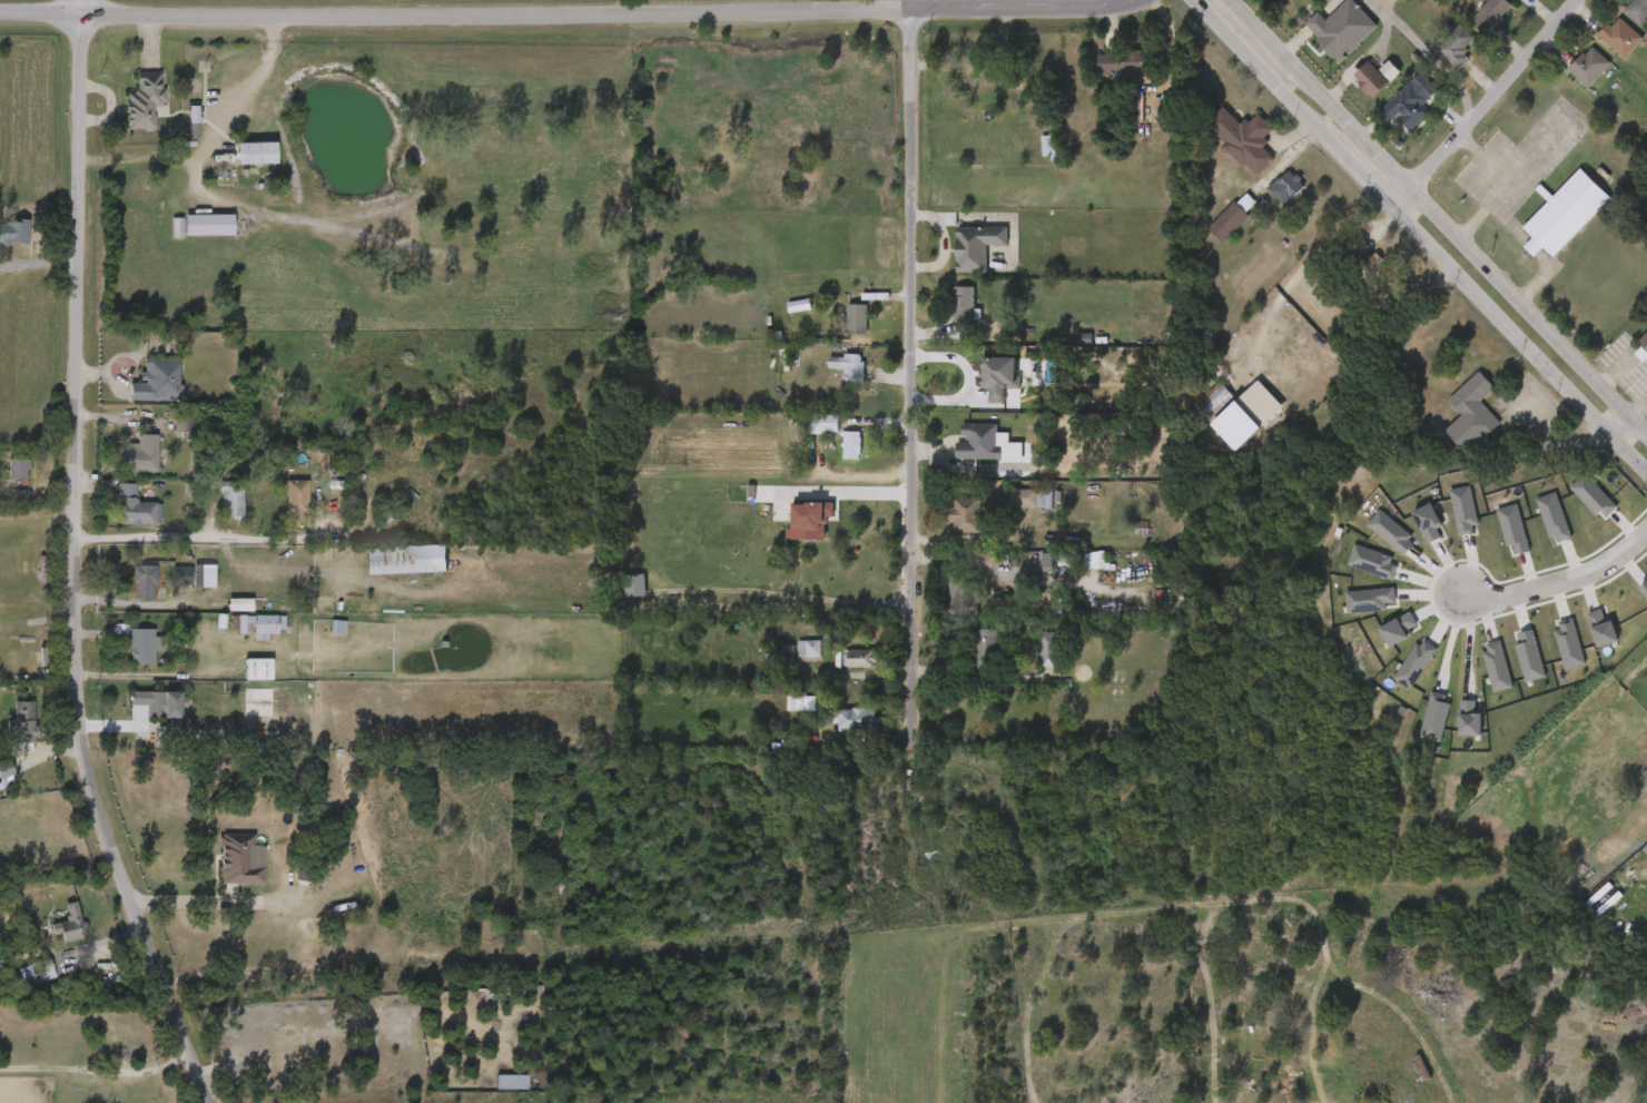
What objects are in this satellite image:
building: (1517, 0)
road: (76, 6)
road: (1023, 9)
building: (1638, 10)
road: (38, 11)
building: (1491, 14)
road: (489, 16)
building: (1471, 24)
building: (1343, 28)
building: (1621, 37)
building: (1322, 39)
building: (1458, 47)
building: (1600, 48)
road: (1430, 53)
building: (1437, 57)
building: (1124, 62)
building: (1590, 66)
building: (1103, 72)
building: (1569, 77)
building: (1372, 79)
building: (1351, 90)
building: (148, 100)
building: (1413, 101)
road: (1479, 106)
building: (126, 110)
building: (1392, 111)
building: (176, 127)
building: (1245, 139)
road: (213, 141)
building: (1225, 150)
building: (255, 152)
building: (237, 163)
building: (1288, 186)
building: (1266, 198)
building: (1562, 213)
building: (1233, 218)
road: (1431, 221)
building: (208, 225)
building: (1213, 228)
building: (16, 230)
building: (190, 235)
road: (1416, 242)
building: (978, 246)
building: (958, 257)
building: (1364, 259)
road: (29, 262)
road: (69, 263)
building: (1354, 276)
building: (1401, 295)
building: (790, 303)
building: (965, 305)
building: (945, 314)
building: (858, 319)
building: (838, 329)
building: (1091, 334)
building: (1644, 349)
road: (906, 360)
building: (169, 366)
building: (850, 366)
building: (829, 377)
building: (980, 387)
building: (141, 390)
building: (1216, 401)
building: (1195, 412)
building: (1473, 413)
building: (825, 422)
building: (1452, 423)
road: (1614, 430)
building: (805, 433)
building: (1133, 434)
road: (1551, 439)
building: (979, 443)
building: (852, 445)
building: (959, 452)
building: (142, 454)
building: (832, 455)
building: (120, 465)
building: (14, 467)
road: (850, 491)
building: (1033, 498)
building: (233, 500)
building: (296, 500)
building: (135, 506)
building: (1574, 506)
building: (1012, 509)
building: (214, 510)
building: (278, 511)
building: (965, 513)
building: (118, 518)
building: (1443, 521)
building: (946, 525)
building: (1533, 528)
building: (791, 531)
building: (1409, 533)
road: (215, 538)
building: (1493, 539)
building: (1371, 543)
building: (996, 559)
building: (1057, 561)
road: (78, 568)
building: (1028, 572)
building: (1353, 572)
road: (1557, 575)
building: (145, 580)
building: (165, 585)
building: (181, 585)
building: (127, 591)
road: (780, 592)
building: (963, 594)
building: (615, 595)
road: (146, 602)
building: (1635, 603)
building: (938, 605)
building: (1350, 610)
building: (221, 614)
building: (259, 624)
building: (243, 636)
building: (1379, 639)
building: (1582, 639)
building: (101, 641)
building: (139, 641)
road: (1469, 643)
building: (1046, 650)
building: (985, 651)
building: (1549, 653)
building: (126, 656)
building: (861, 658)
building: (790, 659)
building: (1028, 659)
building: (1640, 659)
building: (967, 662)
building: (1509, 667)
building: (257, 668)
building: (840, 668)
building: (1395, 673)
building: (1477, 676)
building: (239, 679)
building: (275, 696)
building: (802, 701)
building: (152, 705)
building: (257, 710)
building: (781, 712)
building: (858, 719)
building: (21, 726)
building: (1416, 727)
building: (1450, 729)
building: (837, 730)
building: (8, 735)
building: (8, 774)
building: (238, 858)
building: (223, 869)
road: (189, 900)
building: (71, 925)
building: (52, 934)
building: (26, 979)
road: (97, 1070)
building: (492, 1091)

